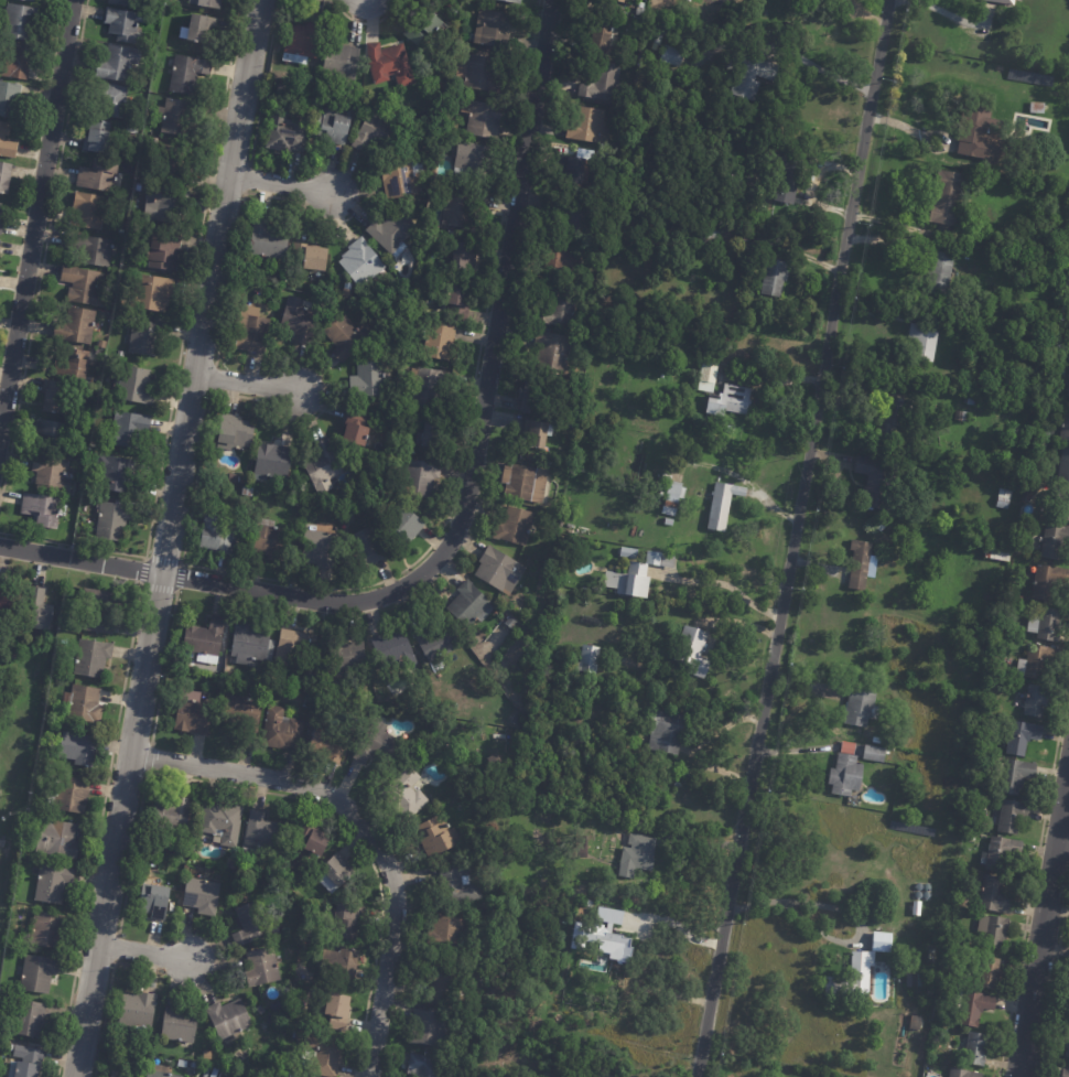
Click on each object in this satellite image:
building: (30, 0)
building: (689, 0)
building: (512, 1)
building: (622, 1)
building: (129, 3)
building: (206, 3)
building: (450, 4)
building: (640, 13)
building: (984, 13)
road: (944, 14)
building: (19, 22)
building: (126, 25)
building: (425, 26)
building: (201, 28)
building: (496, 30)
building: (700, 32)
building: (602, 37)
building: (302, 42)
building: (670, 55)
building: (701, 61)
building: (342, 62)
building: (15, 63)
building: (118, 64)
building: (389, 65)
road: (822, 72)
building: (187, 74)
building: (484, 74)
building: (751, 75)
building: (310, 82)
building: (603, 83)
building: (10, 101)
building: (111, 101)
building: (1040, 108)
building: (176, 117)
building: (484, 119)
building: (336, 126)
building: (586, 126)
building: (131, 129)
building: (979, 131)
building: (284, 132)
building: (374, 133)
building: (98, 137)
building: (145, 141)
building: (7, 142)
building: (468, 159)
building: (172, 165)
building: (780, 165)
building: (572, 170)
building: (4, 176)
building: (100, 177)
building: (400, 181)
road: (279, 183)
building: (435, 186)
building: (950, 197)
building: (165, 205)
road: (35, 208)
building: (457, 208)
building: (88, 212)
building: (579, 215)
building: (1, 218)
building: (684, 226)
building: (1058, 227)
building: (393, 233)
building: (120, 234)
building: (726, 234)
building: (974, 234)
building: (451, 235)
building: (269, 241)
building: (298, 248)
building: (90, 249)
building: (161, 250)
building: (465, 258)
building: (316, 260)
building: (361, 263)
building: (563, 265)
building: (940, 273)
building: (775, 278)
building: (83, 287)
building: (150, 293)
building: (347, 294)
building: (460, 303)
building: (560, 308)
building: (679, 319)
building: (299, 321)
building: (76, 326)
building: (252, 334)
building: (145, 337)
building: (346, 337)
building: (443, 342)
building: (925, 343)
building: (553, 349)
building: (120, 355)
building: (73, 364)
building: (709, 375)
building: (1068, 379)
building: (368, 381)
road: (245, 384)
building: (134, 387)
building: (429, 387)
building: (91, 392)
building: (1068, 394)
building: (530, 399)
building: (892, 399)
building: (57, 400)
building: (731, 400)
building: (973, 400)
building: (962, 417)
building: (892, 424)
building: (1065, 424)
building: (350, 430)
building: (128, 431)
building: (229, 431)
building: (431, 432)
building: (536, 433)
building: (51, 435)
building: (267, 464)
building: (315, 466)
building: (1063, 466)
building: (52, 474)
building: (114, 475)
building: (667, 476)
building: (420, 480)
building: (877, 481)
building: (1023, 481)
building: (525, 482)
building: (1032, 488)
building: (673, 497)
building: (1004, 498)
building: (723, 505)
building: (1065, 505)
road: (463, 506)
building: (43, 510)
building: (337, 510)
building: (349, 515)
building: (112, 521)
building: (668, 523)
building: (514, 525)
building: (402, 528)
building: (217, 537)
road: (165, 538)
road: (791, 538)
building: (1052, 540)
building: (272, 541)
building: (573, 542)
building: (321, 549)
building: (366, 549)
building: (629, 552)
building: (996, 552)
building: (863, 564)
building: (541, 568)
building: (499, 570)
building: (635, 575)
building: (1048, 581)
road: (722, 584)
building: (3, 597)
building: (471, 604)
building: (37, 610)
building: (100, 610)
building: (63, 622)
building: (512, 622)
building: (1048, 624)
building: (204, 640)
building: (436, 640)
building: (249, 643)
building: (291, 647)
building: (392, 647)
building: (693, 651)
building: (345, 654)
building: (91, 657)
building: (589, 660)
building: (1039, 663)
building: (997, 671)
building: (369, 683)
building: (224, 688)
building: (604, 699)
building: (1035, 700)
building: (307, 702)
building: (84, 703)
building: (615, 706)
building: (862, 707)
building: (364, 710)
building: (242, 712)
building: (193, 713)
building: (509, 719)
building: (281, 730)
building: (666, 732)
building: (1023, 736)
building: (877, 741)
building: (375, 742)
building: (327, 745)
building: (78, 747)
building: (867, 753)
building: (495, 761)
building: (841, 771)
building: (1016, 775)
building: (407, 793)
building: (72, 794)
building: (172, 814)
building: (1005, 816)
building: (223, 822)
road: (366, 829)
building: (264, 832)
building: (974, 832)
building: (438, 837)
road: (1062, 837)
building: (57, 839)
building: (317, 841)
building: (582, 847)
building: (994, 852)
building: (638, 855)
building: (337, 870)
building: (52, 883)
building: (458, 883)
building: (202, 895)
building: (994, 895)
building: (154, 901)
road: (793, 902)
building: (910, 907)
building: (347, 922)
building: (252, 923)
road: (1041, 923)
road: (676, 925)
building: (45, 930)
building: (445, 931)
building: (995, 931)
building: (603, 937)
building: (876, 941)
road: (142, 952)
building: (261, 967)
building: (341, 967)
building: (37, 973)
building: (990, 973)
building: (849, 977)
building: (914, 981)
building: (443, 986)
building: (931, 991)
building: (620, 1002)
building: (975, 1008)
building: (138, 1010)
building: (338, 1011)
building: (228, 1017)
building: (30, 1021)
building: (916, 1023)
building: (180, 1026)
building: (426, 1028)
building: (1067, 1042)
building: (978, 1049)
building: (324, 1055)
building: (28, 1062)
building: (429, 1066)
building: (139, 1069)
building: (159, 1071)
building: (1065, 1073)
building: (964, 1074)
building: (292, 1076)
building: (605, 1076)

